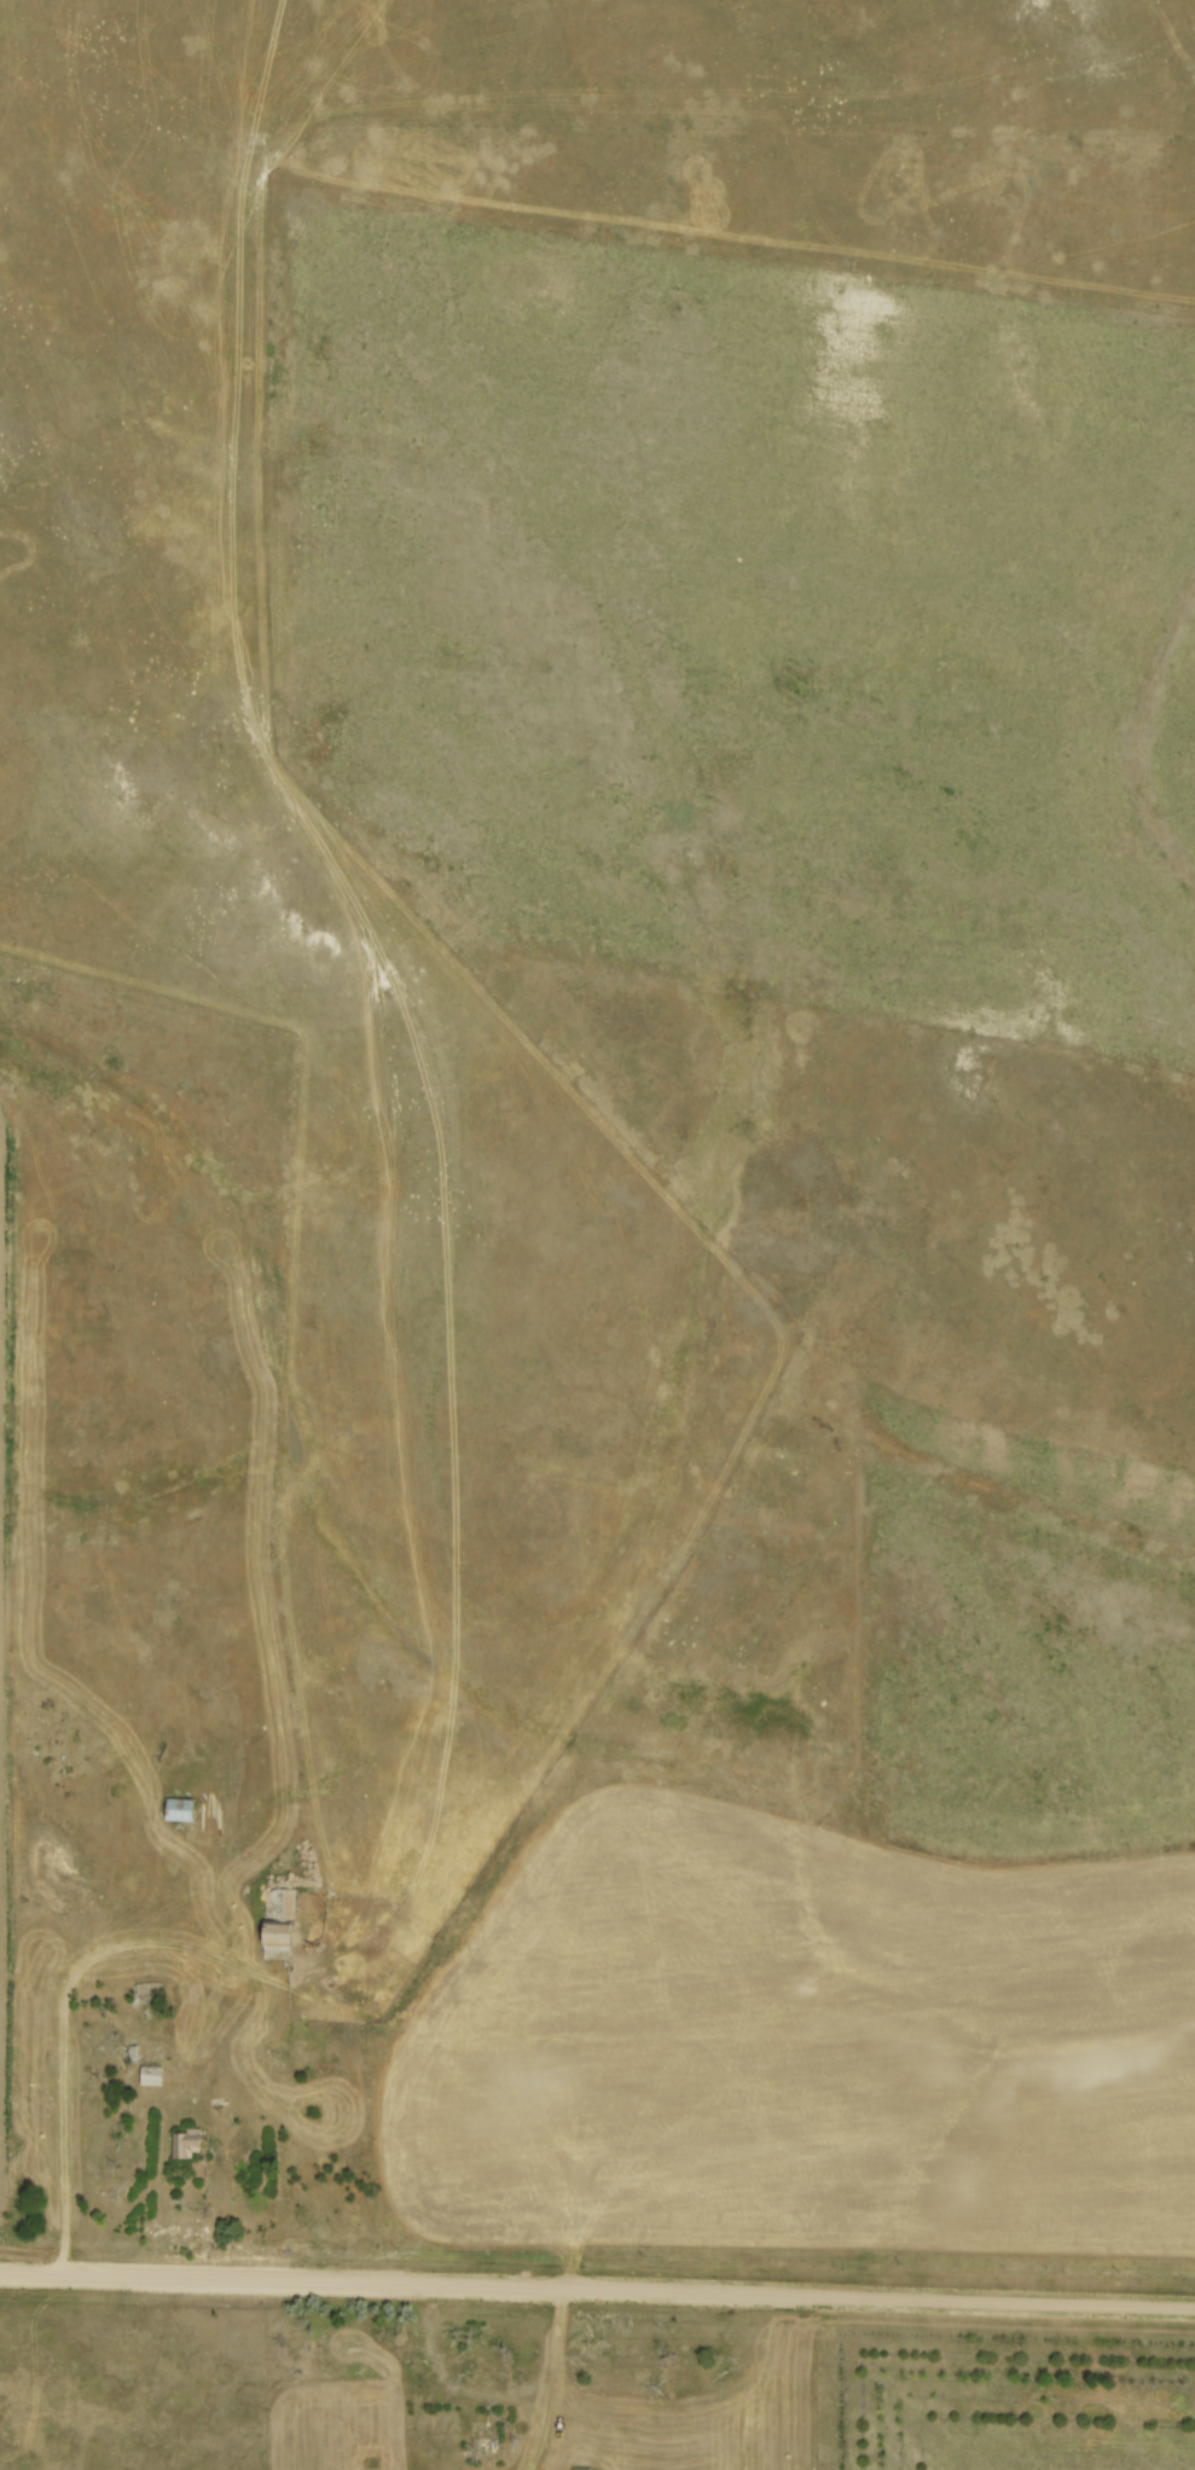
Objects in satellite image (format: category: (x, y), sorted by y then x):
crop: (0, 1670)
building: (179, 1808)
building: (277, 1918)
building: (147, 1994)
road: (64, 2007)
crop: (804, 2046)
building: (150, 2072)
building: (182, 2143)
road: (597, 2289)
road: (556, 2355)
building: (487, 2430)
building: (581, 2469)

